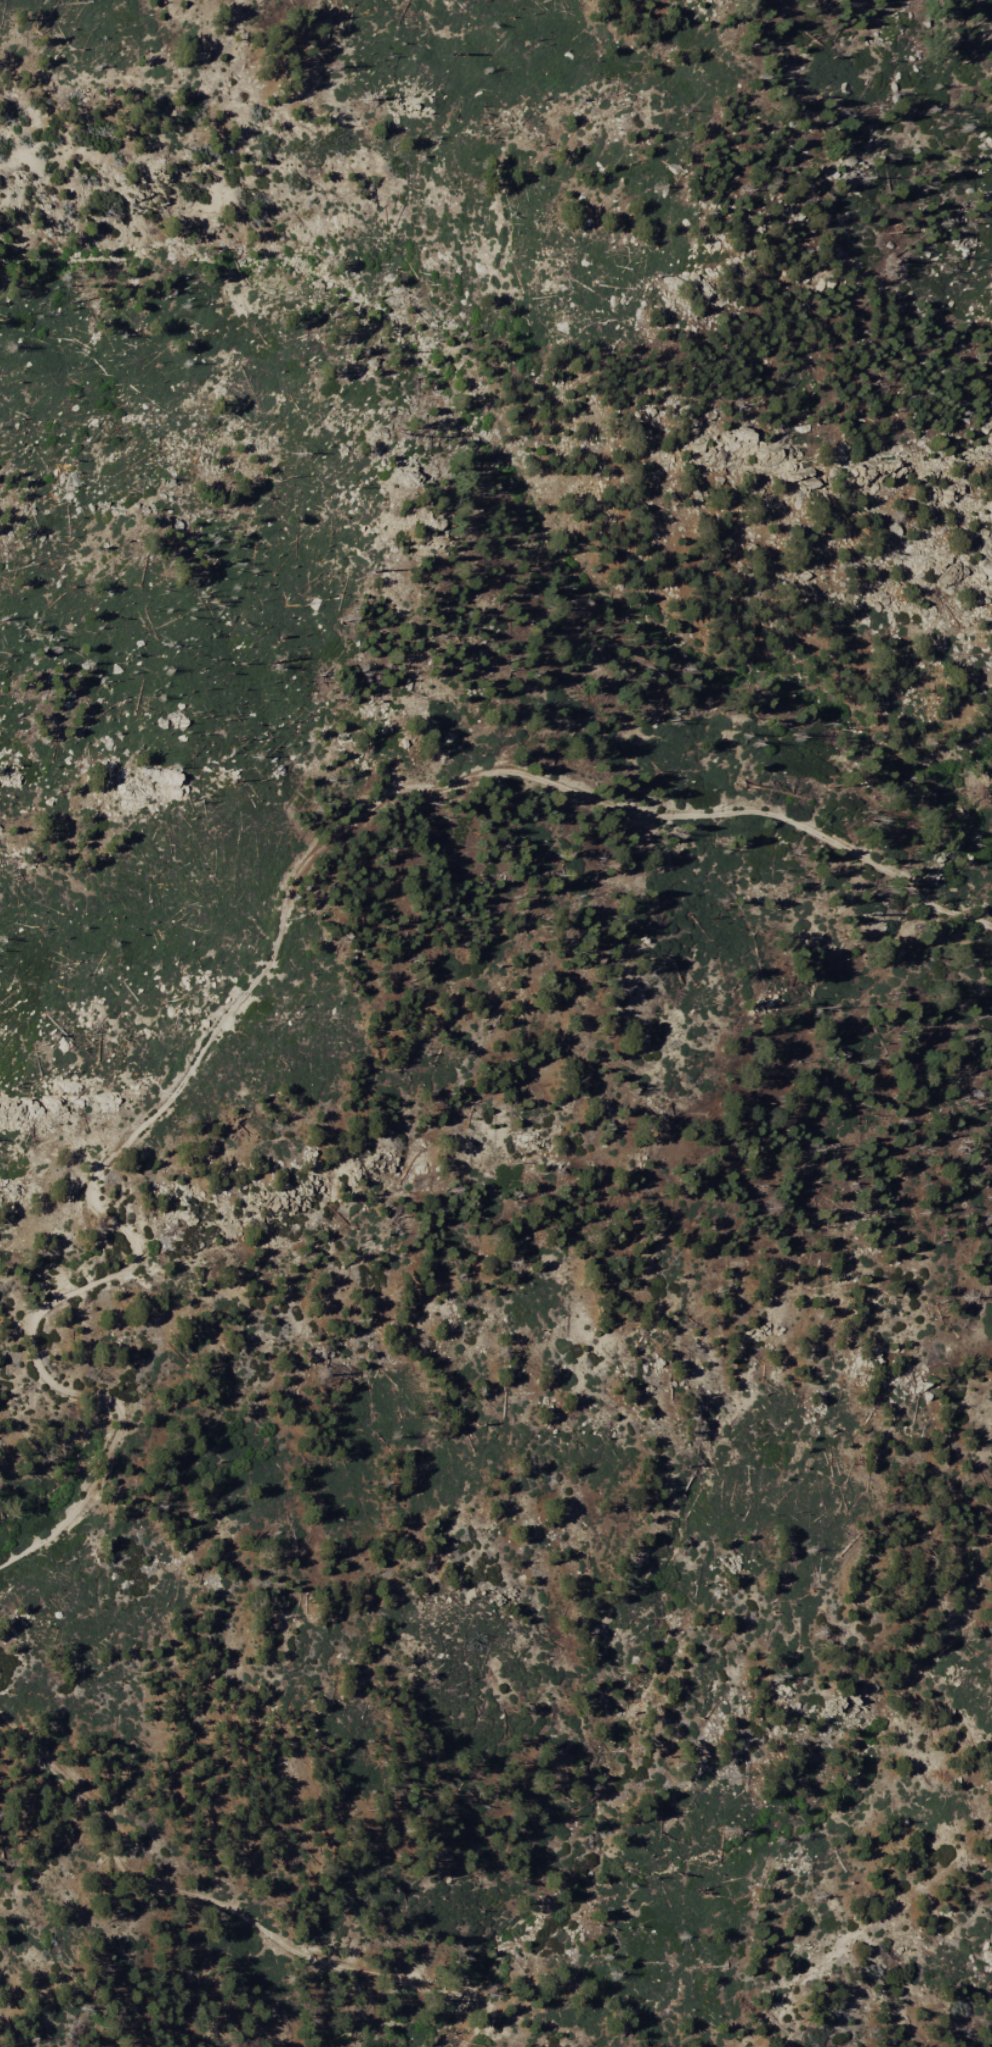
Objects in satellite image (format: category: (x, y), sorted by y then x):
road: (274, 959)
road: (227, 1911)

